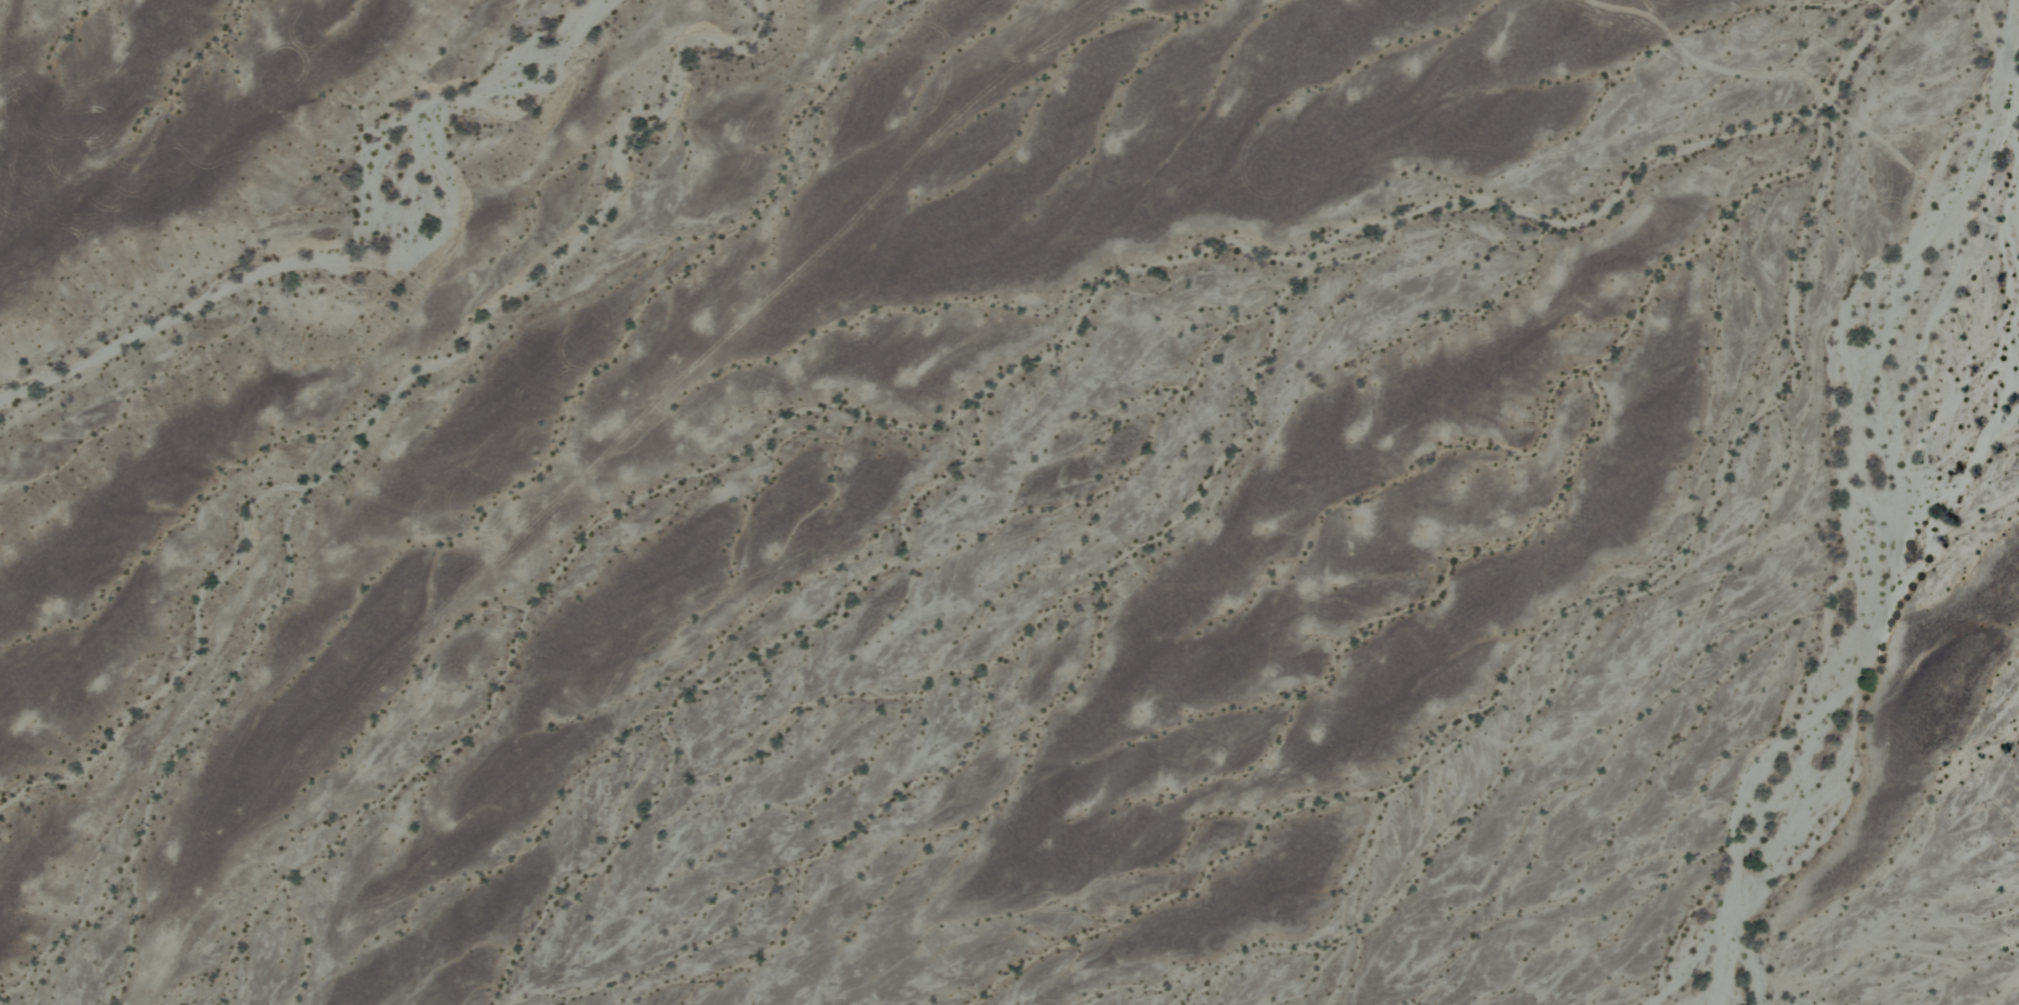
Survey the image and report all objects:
road: (1813, 85)

